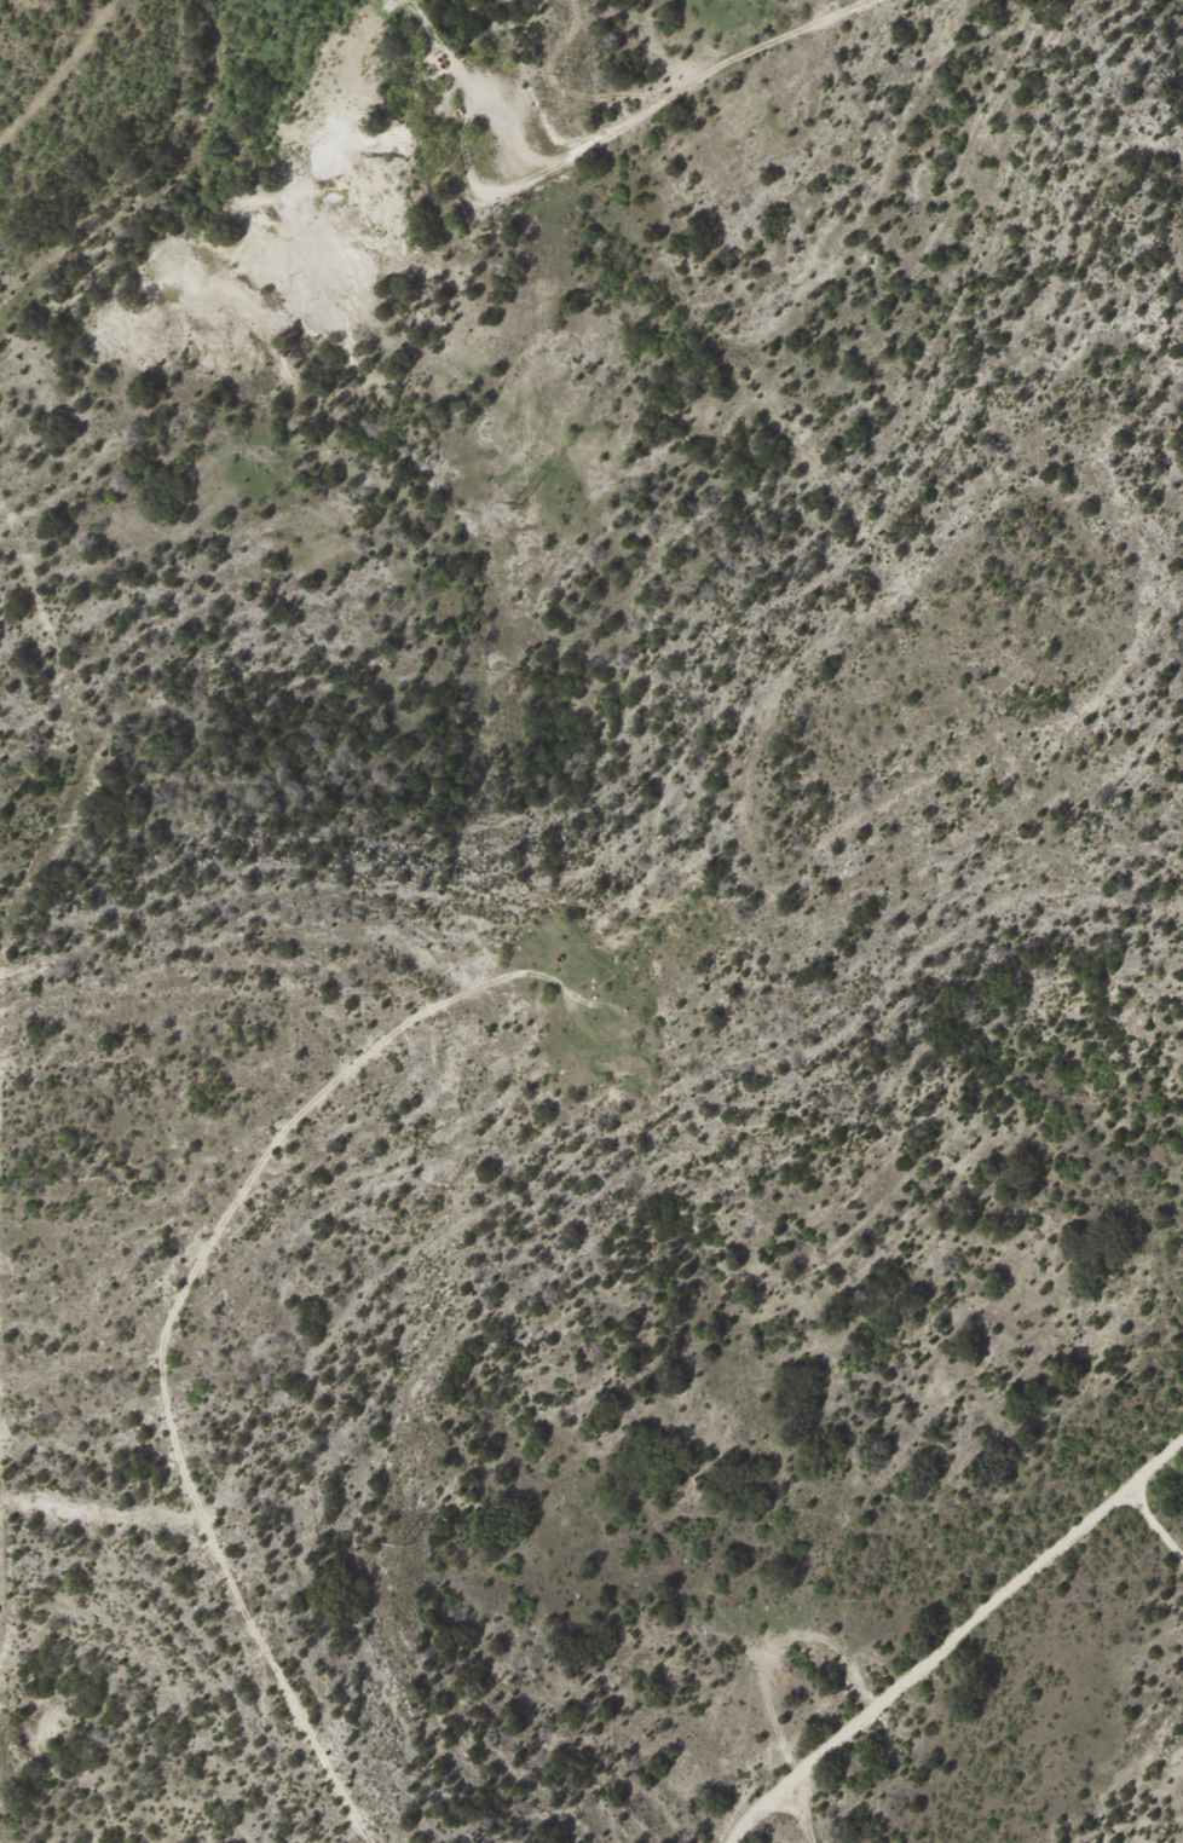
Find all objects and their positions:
power tower: (569, 73)
power tower: (519, 501)
power tower: (478, 899)
power tower: (446, 1186)
power tower: (408, 1543)
road: (979, 1650)

